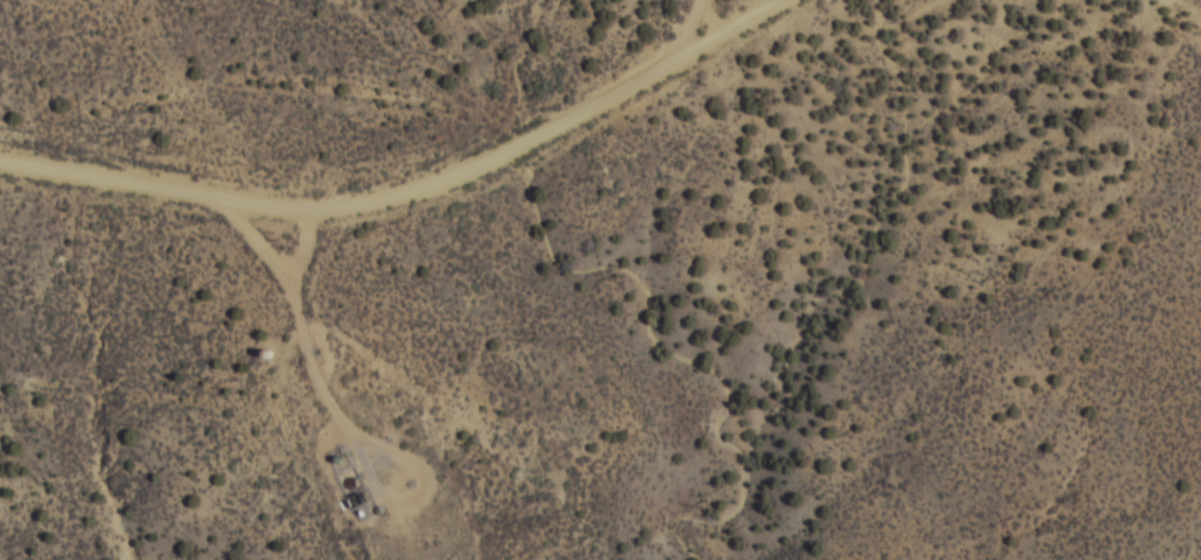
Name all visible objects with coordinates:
road: (696, 28)
road: (411, 188)

